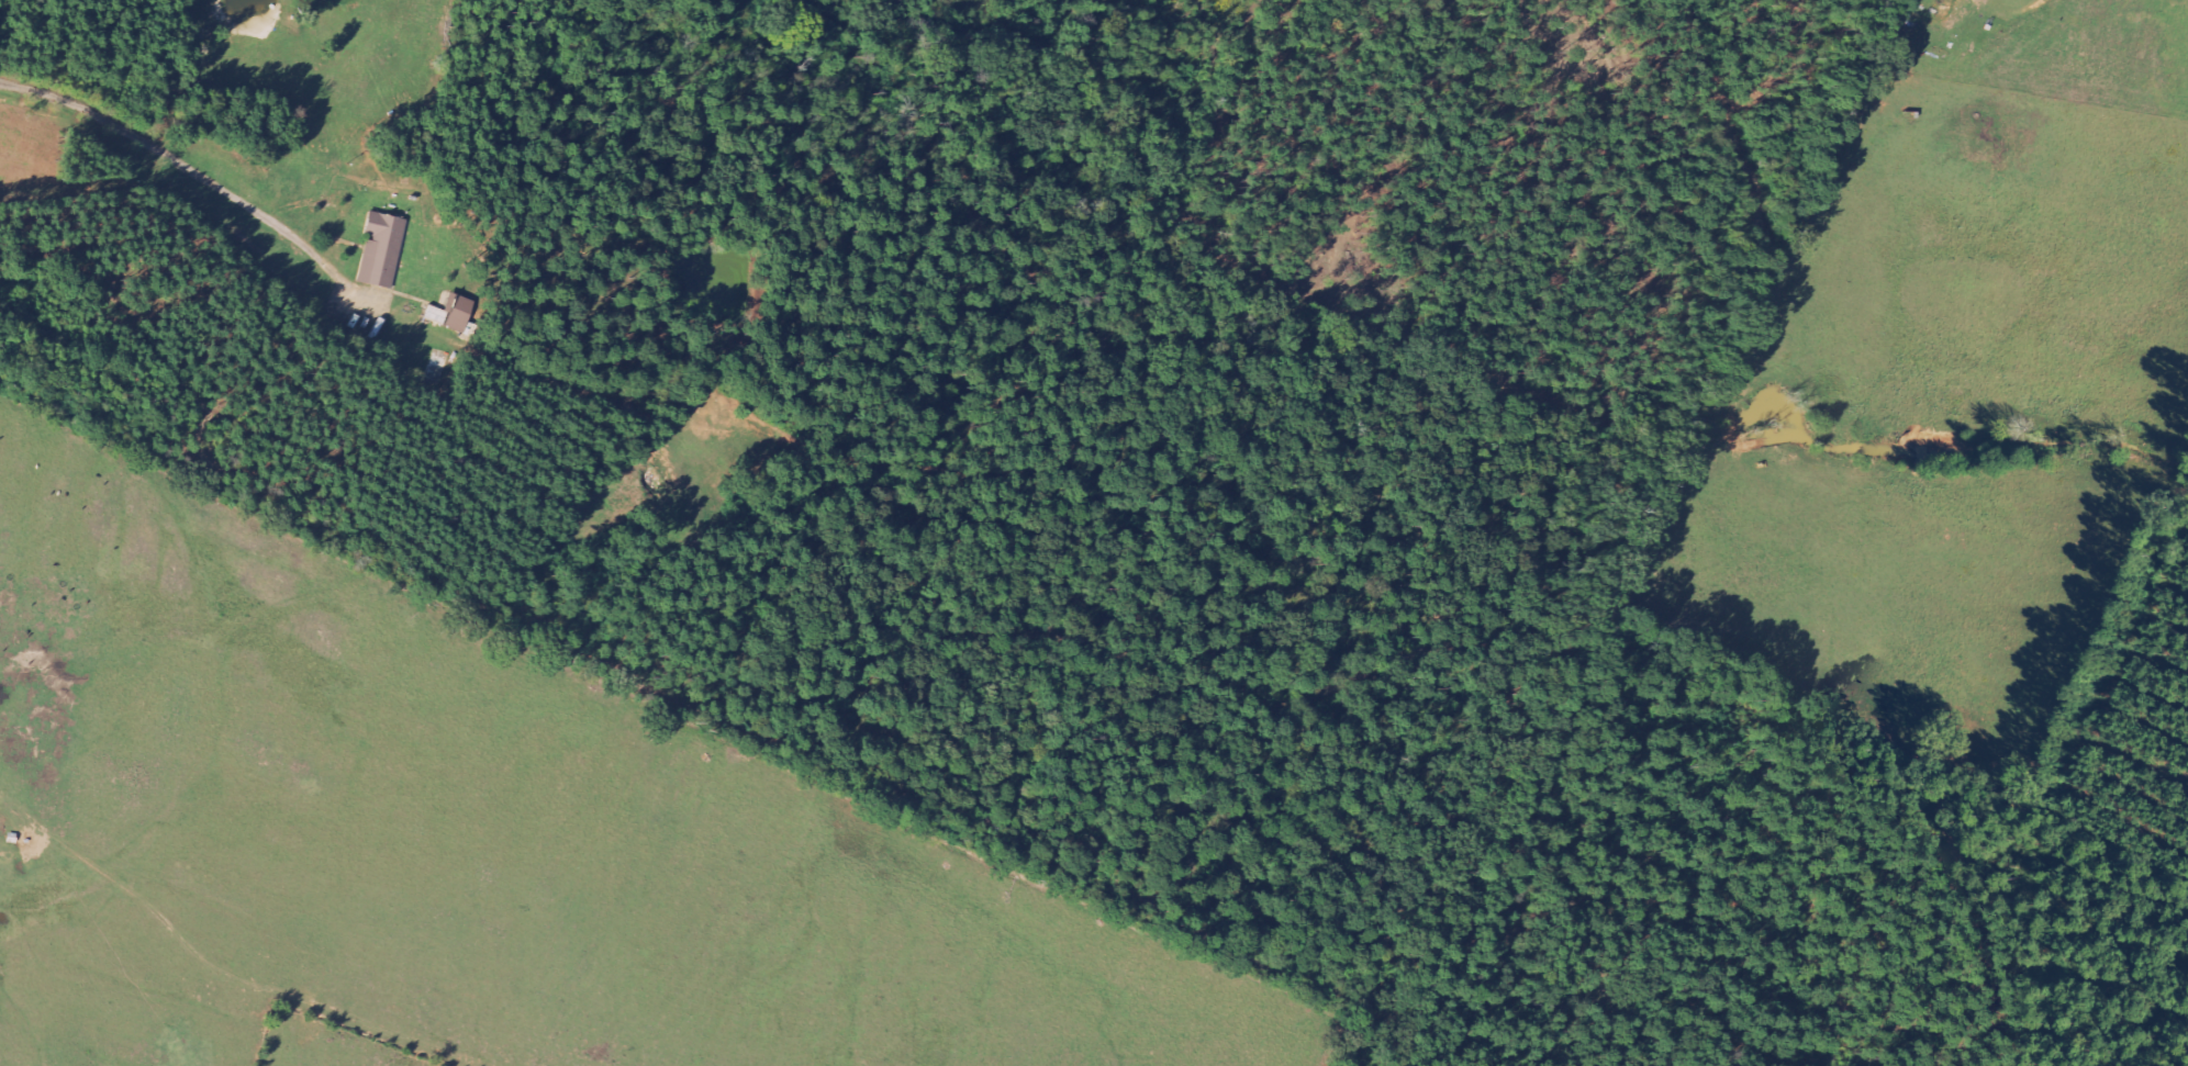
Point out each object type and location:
building: (386, 250)
building: (458, 313)

